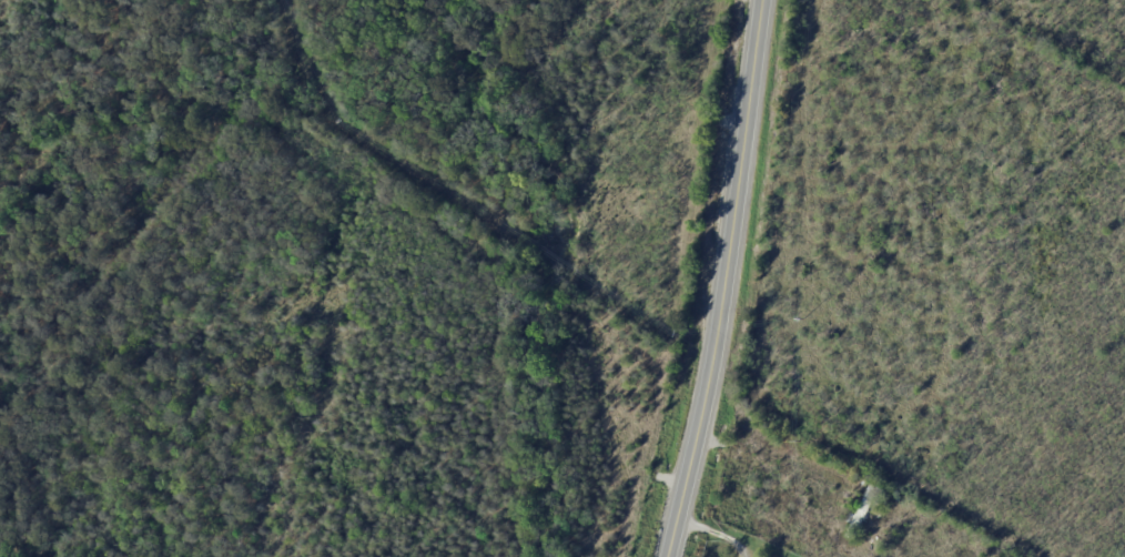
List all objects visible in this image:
road: (720, 280)
road: (712, 530)

